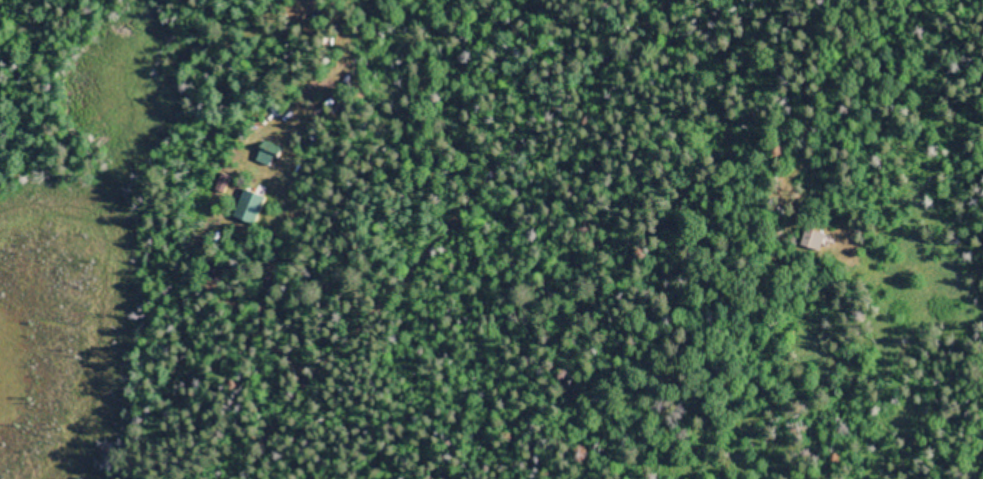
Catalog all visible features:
road: (409, 236)
building: (821, 239)

